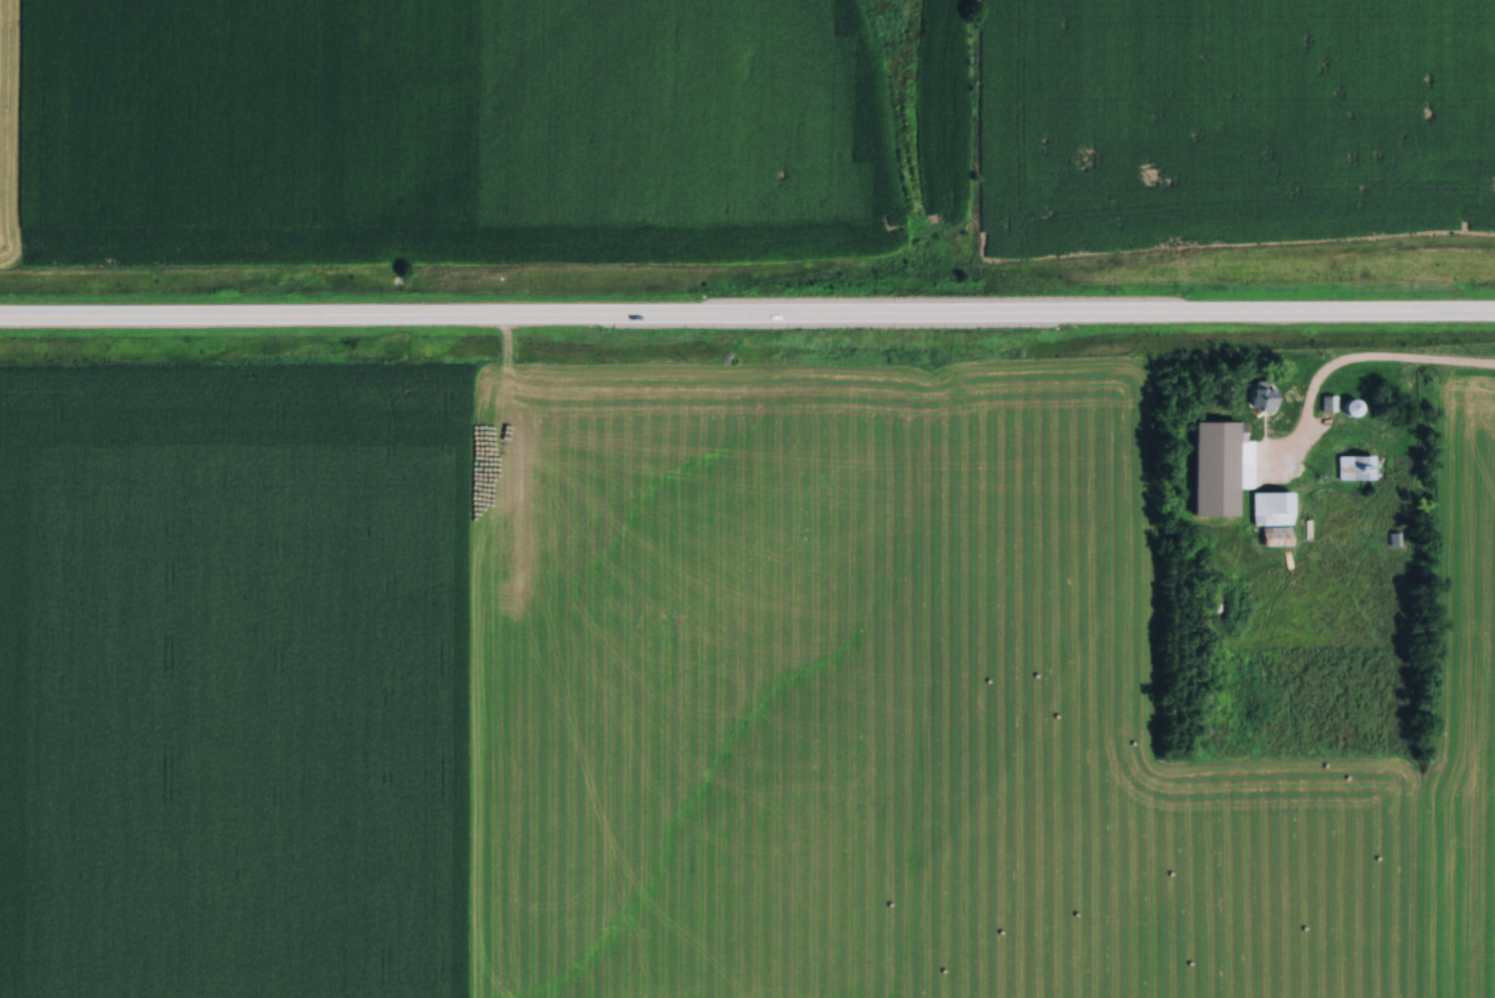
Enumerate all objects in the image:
road: (747, 316)
road: (1388, 361)
building: (1257, 391)
building: (1325, 398)
building: (1346, 402)
building: (1217, 444)
building: (1353, 462)
building: (1269, 503)

